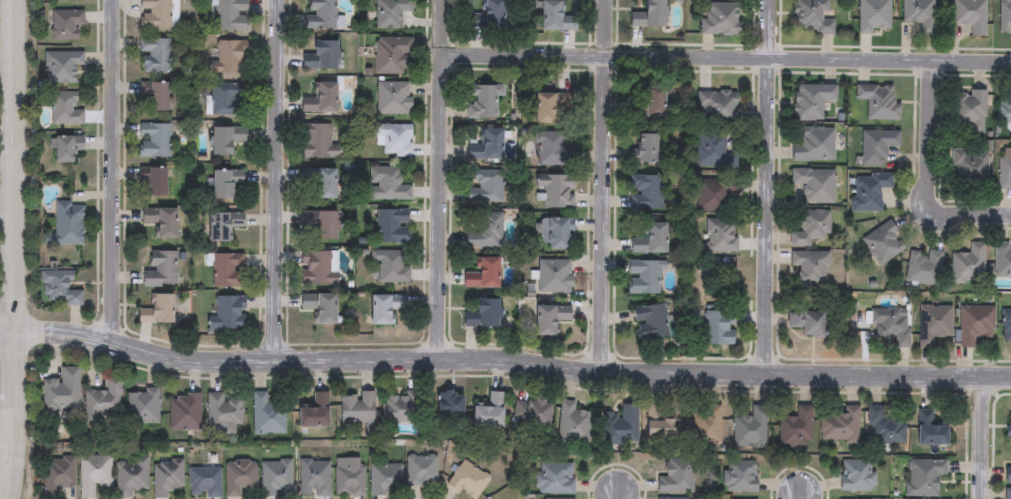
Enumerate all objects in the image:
building: (390, 13)
building: (319, 14)
building: (648, 14)
building: (229, 15)
building: (920, 15)
building: (970, 15)
building: (486, 16)
building: (873, 16)
building: (551, 17)
building: (811, 17)
building: (1005, 17)
building: (720, 19)
building: (64, 23)
road: (604, 28)
building: (154, 54)
building: (390, 54)
building: (319, 56)
road: (727, 57)
building: (226, 58)
building: (59, 65)
building: (155, 97)
building: (392, 98)
building: (227, 99)
building: (319, 99)
building: (481, 101)
building: (810, 101)
building: (878, 101)
building: (645, 102)
building: (547, 106)
building: (717, 107)
building: (1004, 108)
building: (63, 110)
building: (969, 111)
building: (152, 140)
building: (223, 140)
building: (392, 140)
building: (318, 141)
building: (487, 145)
building: (812, 145)
building: (876, 146)
building: (549, 147)
building: (64, 148)
building: (645, 148)
building: (712, 152)
building: (968, 168)
building: (1004, 168)
road: (112, 169)
road: (929, 171)
road: (442, 179)
road: (276, 180)
building: (153, 181)
building: (318, 182)
building: (222, 183)
building: (386, 184)
building: (813, 184)
road: (768, 186)
building: (483, 187)
building: (554, 191)
building: (868, 191)
building: (645, 192)
building: (714, 196)
road: (601, 215)
building: (158, 221)
building: (319, 224)
building: (64, 226)
building: (221, 226)
building: (390, 226)
building: (811, 227)
building: (483, 231)
building: (555, 233)
building: (719, 235)
building: (648, 240)
building: (882, 243)
road: (17, 249)
building: (1002, 260)
building: (967, 265)
building: (388, 266)
building: (716, 267)
building: (922, 267)
building: (317, 268)
building: (808, 268)
building: (158, 270)
building: (226, 270)
building: (481, 274)
building: (554, 276)
building: (642, 278)
building: (56, 288)
building: (318, 307)
building: (382, 308)
building: (154, 311)
building: (226, 313)
building: (481, 314)
building: (548, 318)
building: (649, 322)
building: (805, 322)
building: (934, 324)
building: (974, 324)
building: (891, 325)
building: (1006, 325)
building: (716, 328)
road: (503, 360)
building: (60, 392)
building: (102, 403)
building: (141, 407)
building: (355, 408)
building: (399, 409)
building: (448, 410)
building: (183, 413)
building: (488, 413)
building: (530, 413)
building: (313, 414)
building: (222, 415)
building: (266, 416)
building: (656, 424)
building: (573, 425)
building: (620, 426)
building: (840, 426)
building: (706, 427)
building: (1009, 428)
building: (751, 429)
building: (885, 429)
building: (796, 430)
building: (930, 430)
road: (986, 437)
building: (422, 471)
building: (93, 474)
building: (857, 475)
building: (1008, 475)
building: (56, 476)
building: (740, 476)
building: (130, 477)
building: (676, 477)
building: (924, 477)
building: (166, 478)
building: (239, 478)
building: (349, 478)
building: (556, 478)
building: (276, 479)
building: (314, 479)
building: (386, 480)
building: (468, 481)
building: (204, 482)
building: (1008, 494)

